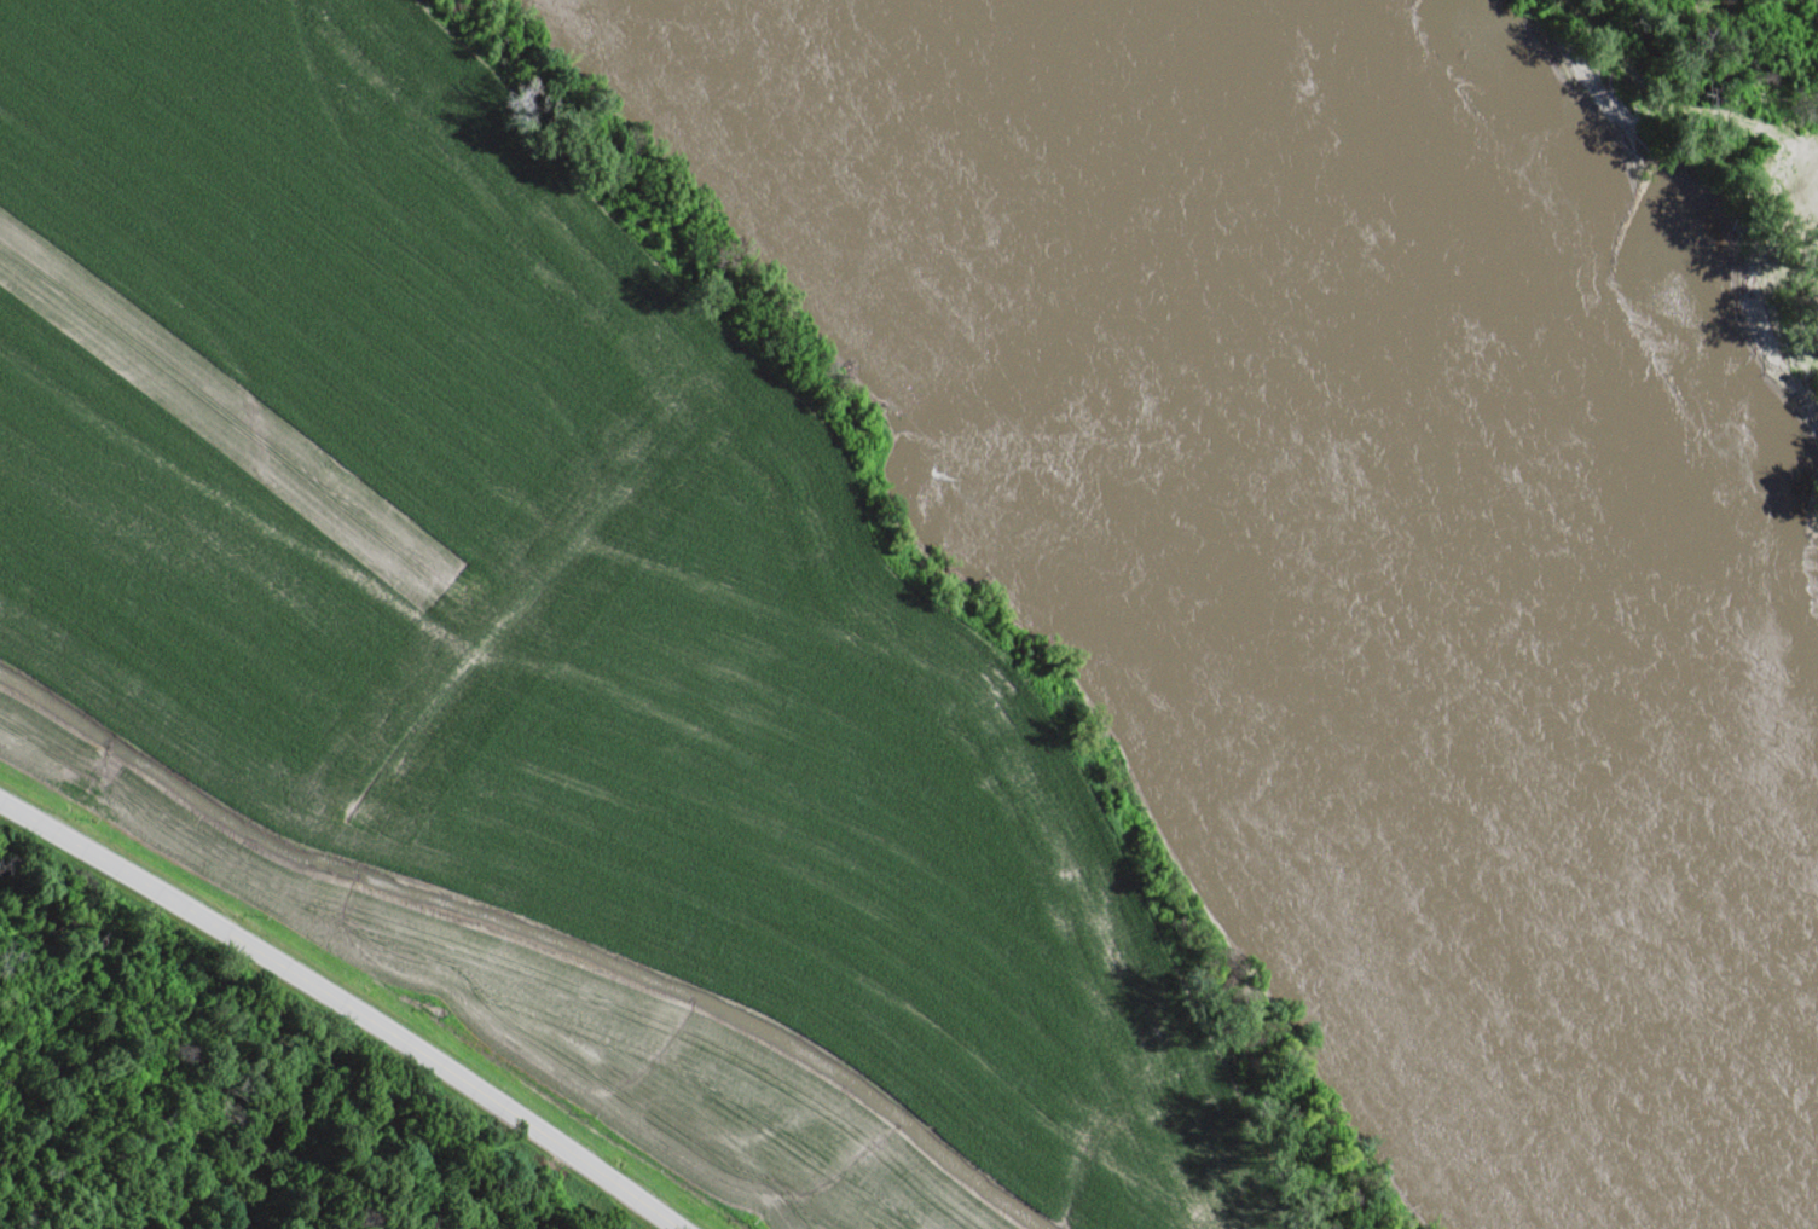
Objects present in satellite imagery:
river: (1425, 605)
road: (346, 1008)

